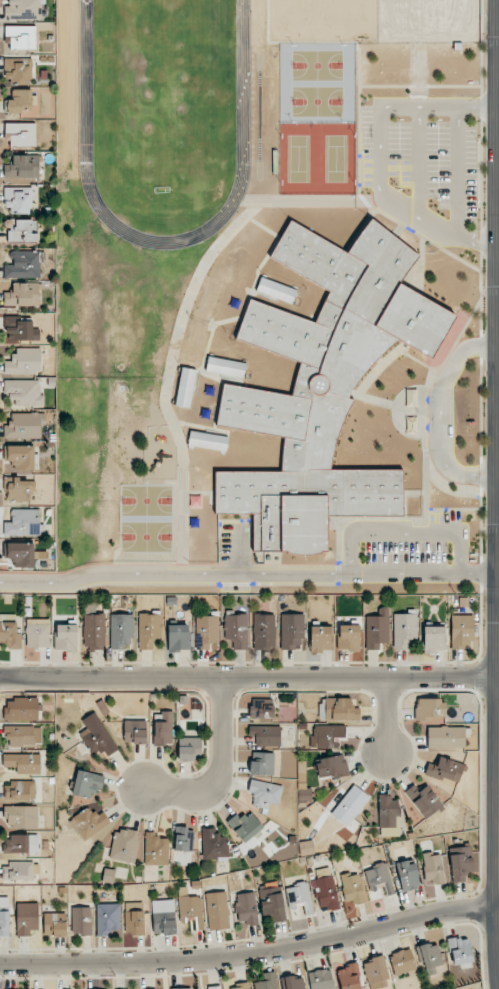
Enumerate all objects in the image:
building: (24, 10)
building: (21, 36)
road: (490, 41)
park: (317, 65)
building: (17, 71)
track: (243, 80)
road: (420, 86)
park: (164, 93)
building: (20, 101)
park: (317, 101)
road: (359, 124)
building: (21, 134)
road: (378, 157)
park: (298, 158)
park: (336, 159)
parking lot: (443, 161)
road: (419, 164)
building: (23, 166)
road: (456, 172)
building: (18, 200)
road: (330, 200)
road: (411, 223)
building: (22, 231)
building: (23, 265)
building: (276, 290)
road: (490, 292)
building: (22, 295)
building: (209, 300)
building: (20, 329)
road: (482, 339)
building: (195, 343)
building: (24, 361)
building: (225, 367)
building: (185, 387)
building: (323, 387)
building: (23, 393)
road: (438, 416)
building: (23, 426)
building: (207, 440)
building: (20, 456)
building: (20, 488)
park: (146, 500)
building: (23, 523)
road: (489, 530)
road: (405, 533)
park: (146, 536)
road: (241, 549)
parking lot: (408, 552)
building: (20, 554)
road: (249, 574)
building: (149, 629)
building: (377, 629)
building: (236, 630)
building: (405, 630)
building: (9, 631)
building: (94, 631)
building: (121, 631)
building: (206, 631)
building: (264, 631)
building: (292, 631)
building: (461, 631)
building: (37, 635)
building: (66, 637)
building: (178, 637)
building: (348, 637)
building: (321, 638)
building: (434, 638)
road: (249, 676)
building: (261, 708)
building: (21, 709)
building: (338, 709)
building: (429, 709)
road: (387, 717)
building: (163, 729)
building: (134, 731)
building: (20, 735)
building: (265, 735)
building: (97, 736)
building: (327, 736)
building: (446, 737)
building: (189, 749)
building: (23, 763)
building: (262, 763)
building: (331, 766)
road: (222, 767)
building: (445, 769)
building: (87, 783)
building: (20, 790)
building: (265, 793)
building: (424, 799)
building: (350, 807)
building: (21, 816)
building: (388, 816)
building: (89, 822)
building: (245, 826)
building: (183, 839)
building: (21, 844)
building: (124, 845)
building: (213, 845)
building: (156, 848)
building: (306, 848)
building: (460, 863)
building: (432, 868)
building: (19, 871)
building: (407, 875)
building: (379, 878)
building: (325, 889)
building: (352, 889)
building: (299, 896)
building: (271, 900)
building: (246, 909)
building: (191, 910)
building: (217, 910)
building: (4, 916)
building: (163, 916)
building: (134, 918)
building: (27, 919)
building: (108, 919)
building: (81, 920)
building: (55, 924)
building: (460, 950)
road: (251, 954)
building: (431, 955)
building: (402, 961)
building: (376, 971)
building: (349, 977)
building: (320, 979)
building: (267, 981)
building: (295, 982)
building: (238, 986)
building: (214, 987)
building: (182, 988)

